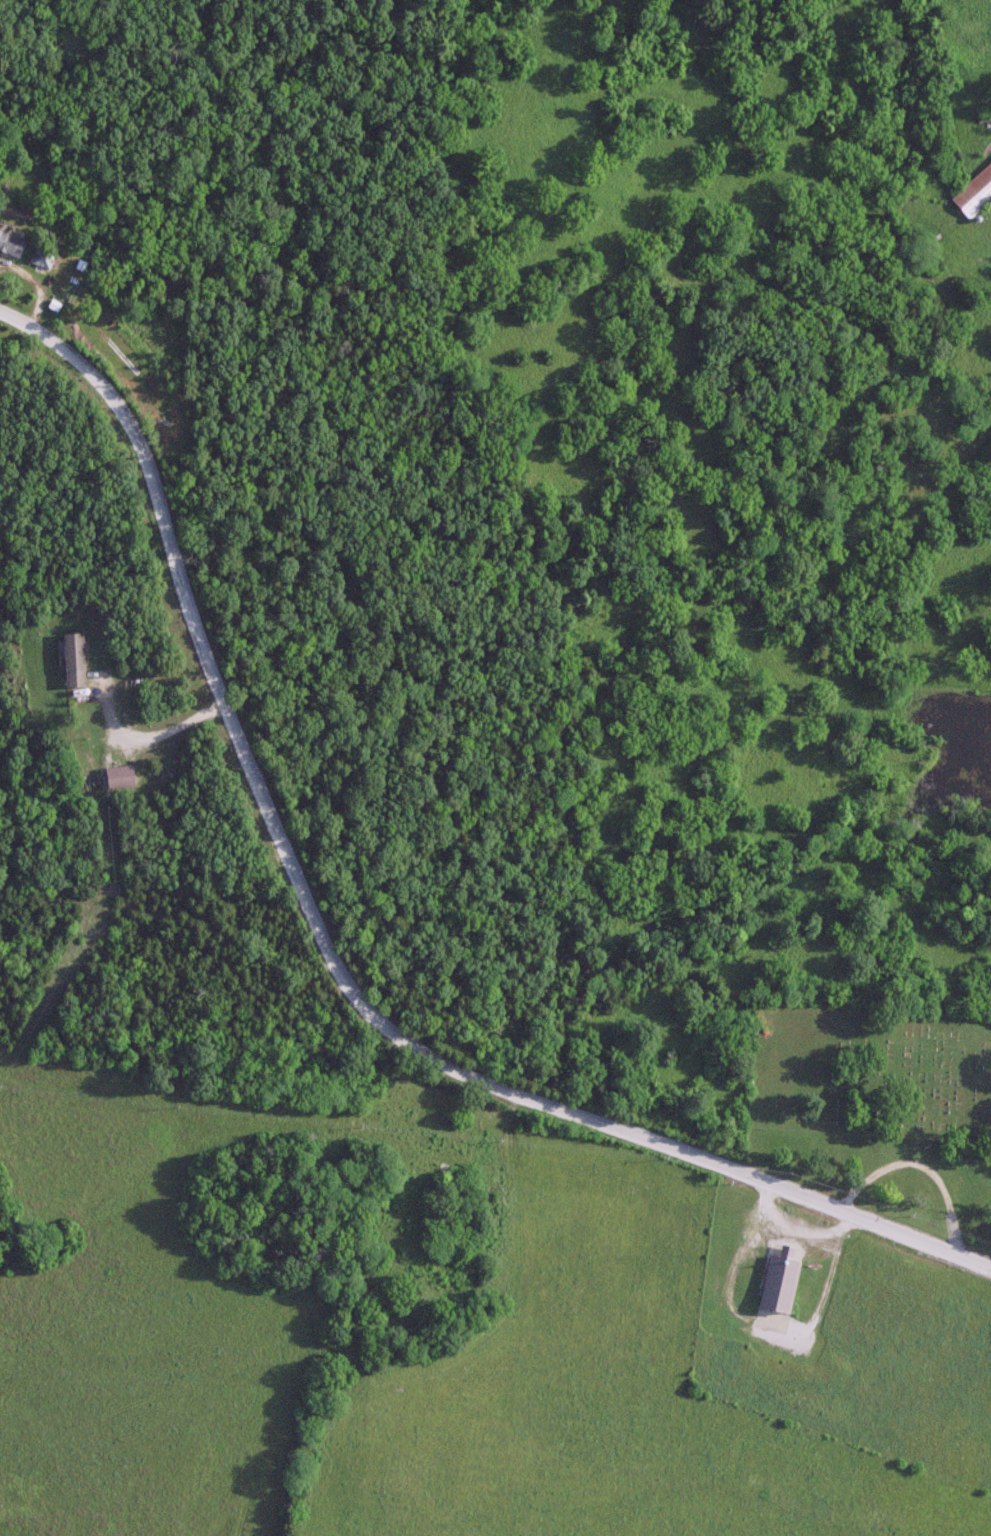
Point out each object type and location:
building: (973, 191)
building: (9, 245)
building: (39, 258)
building: (71, 659)
building: (116, 774)
road: (336, 945)
building: (776, 1280)

